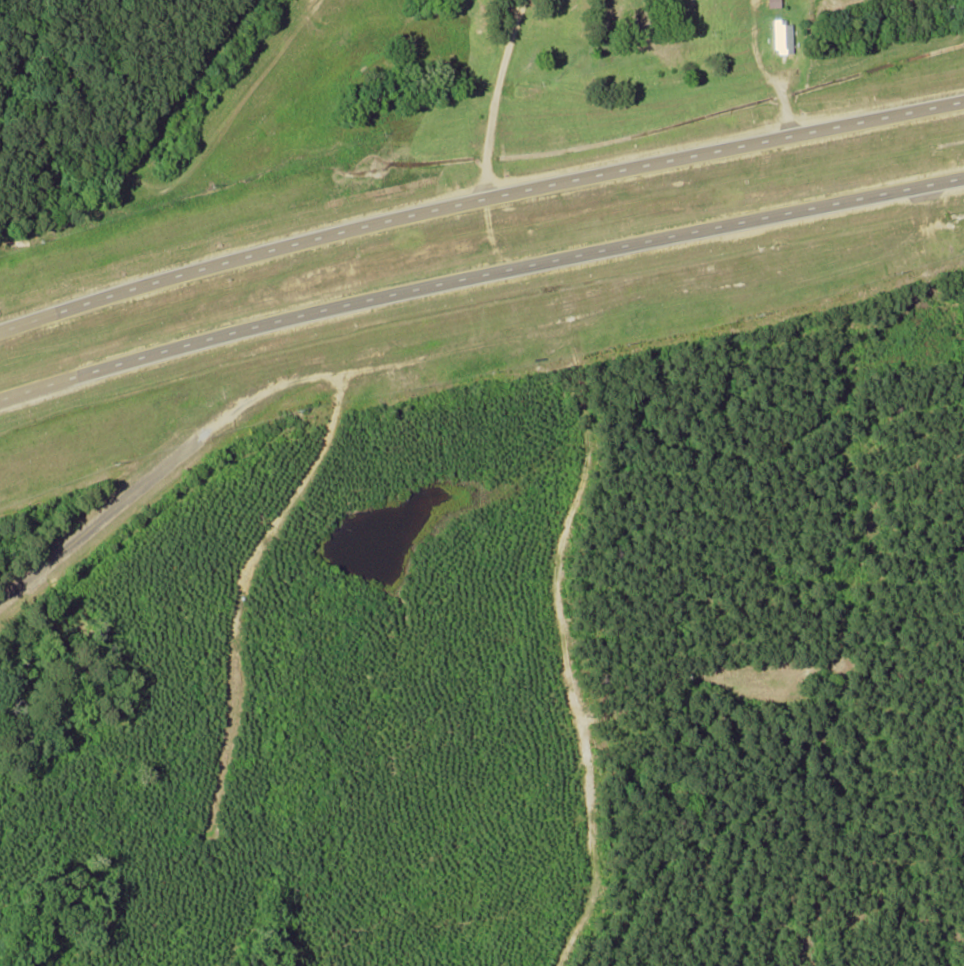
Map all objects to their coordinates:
building: (771, 3)
building: (781, 36)
road: (477, 199)
road: (478, 276)

